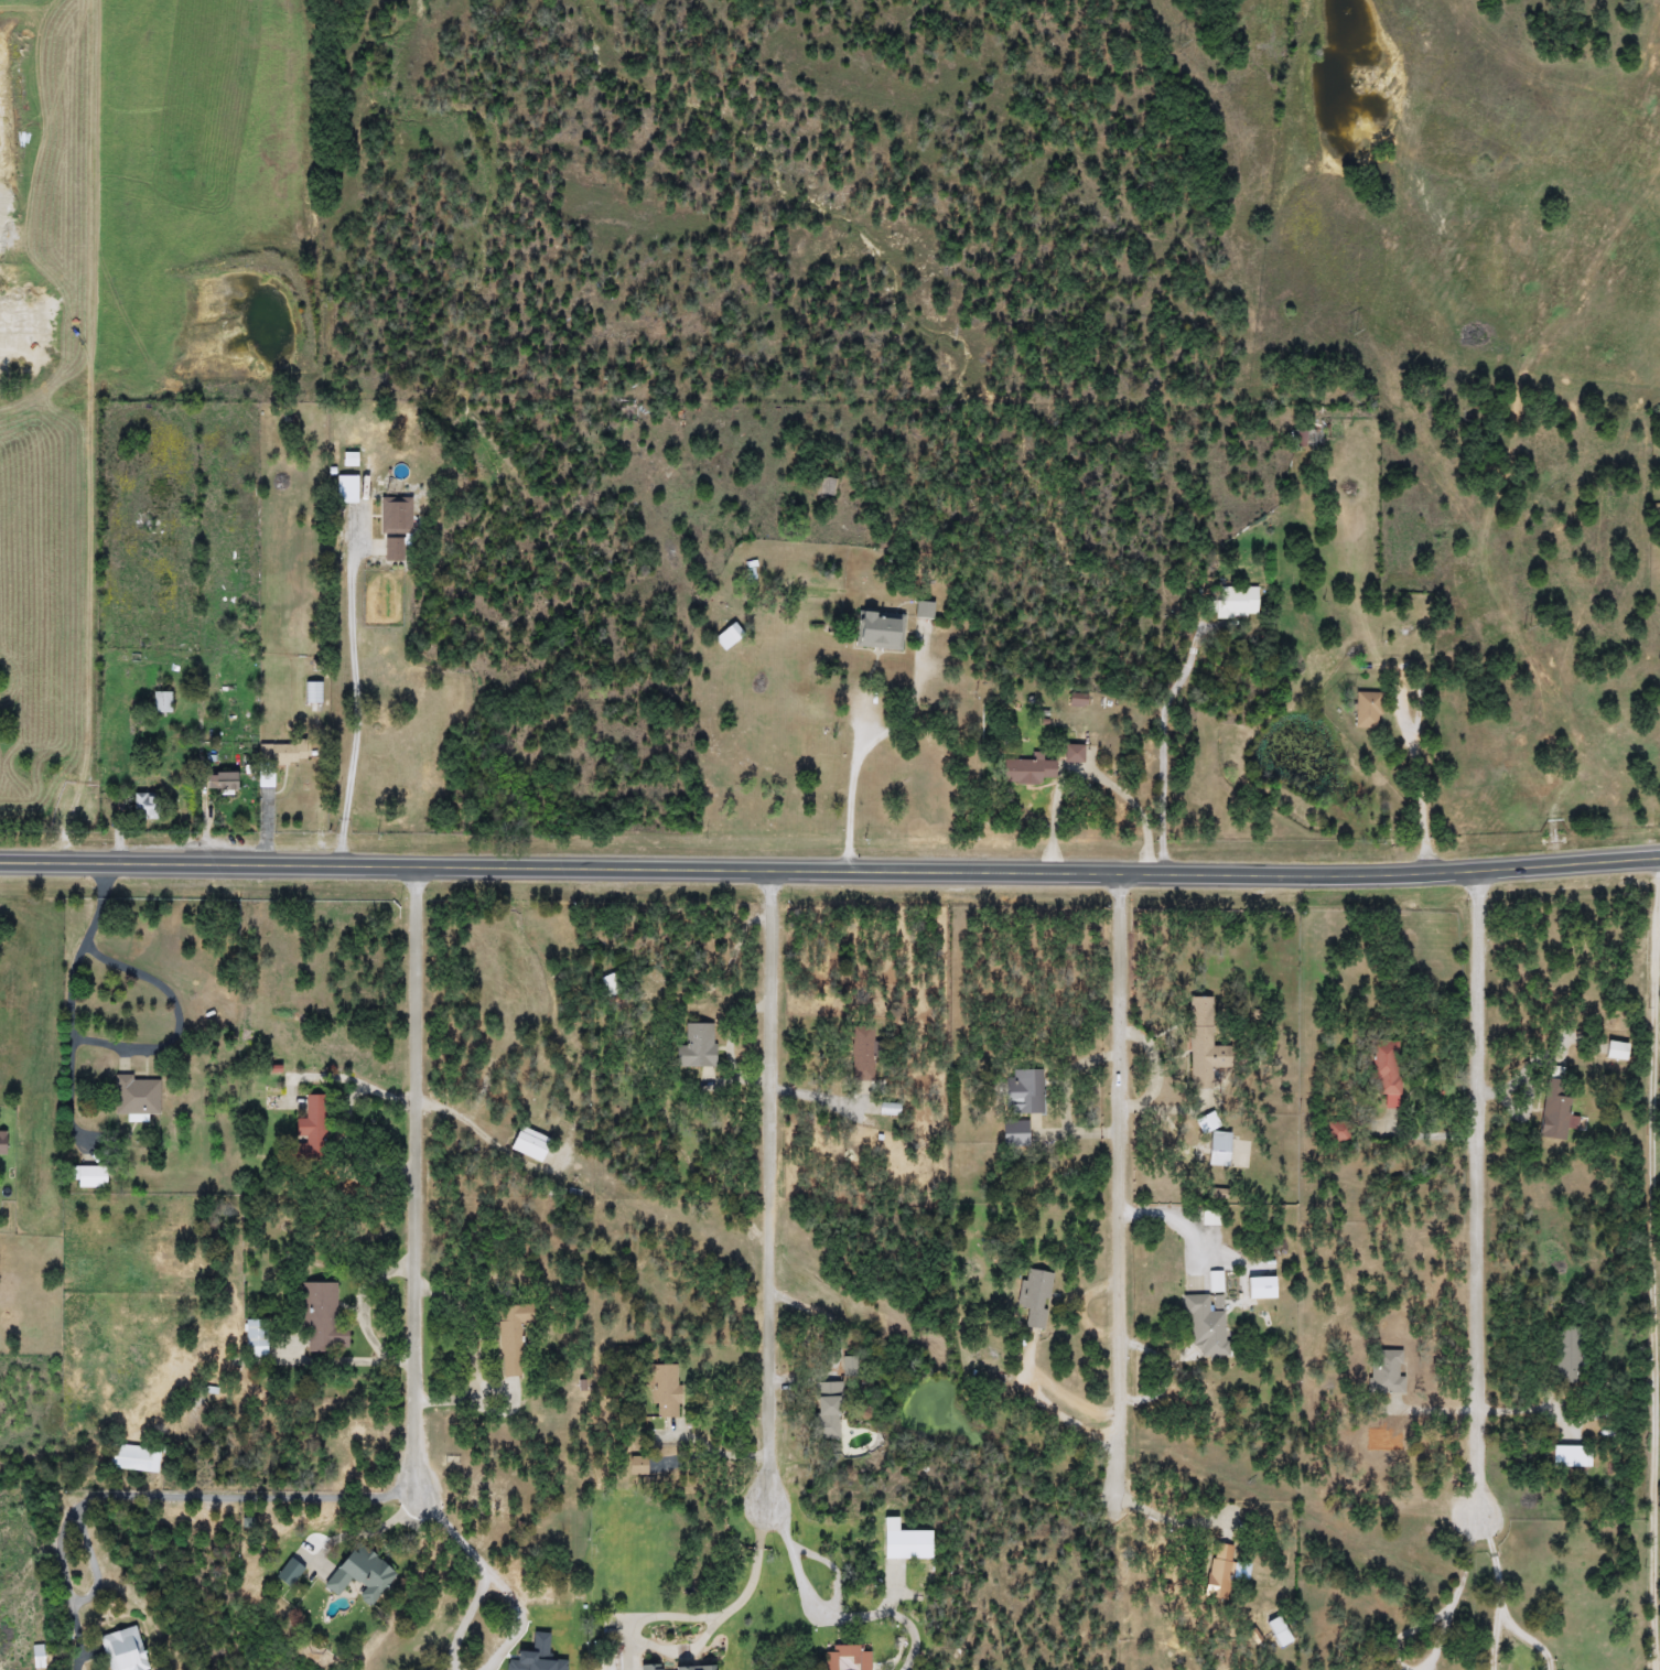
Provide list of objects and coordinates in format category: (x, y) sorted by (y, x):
building: (627, 414)
building: (1304, 439)
building: (824, 487)
building: (346, 489)
building: (394, 516)
building: (391, 550)
building: (1233, 602)
building: (877, 632)
building: (313, 693)
road: (360, 696)
building: (1075, 700)
building: (161, 703)
building: (1366, 711)
building: (1071, 754)
building: (280, 755)
road: (1163, 757)
building: (1027, 771)
road: (1420, 777)
building: (216, 785)
road: (855, 789)
building: (142, 808)
road: (830, 869)
road: (109, 1043)
building: (1201, 1044)
building: (694, 1046)
building: (1616, 1051)
building: (1386, 1071)
building: (1023, 1091)
building: (136, 1096)
building: (886, 1109)
building: (1554, 1109)
road: (347, 1122)
building: (1204, 1125)
building: (1337, 1131)
building: (309, 1133)
building: (1013, 1133)
building: (3, 1143)
building: (527, 1143)
building: (90, 1177)
road: (417, 1177)
road: (767, 1182)
road: (1120, 1187)
road: (1478, 1279)
building: (1035, 1297)
building: (320, 1318)
road: (1653, 1323)
building: (1205, 1324)
building: (256, 1336)
building: (510, 1340)
building: (1565, 1354)
building: (1384, 1372)
building: (664, 1390)
building: (826, 1411)
building: (1567, 1456)
building: (133, 1457)
road: (248, 1497)
road: (1166, 1519)
building: (902, 1541)
road: (473, 1551)
road: (1499, 1559)
building: (1218, 1571)
building: (358, 1573)
road: (756, 1573)
road: (807, 1583)
building: (1280, 1631)
road: (1532, 1638)
road: (1499, 1641)
building: (122, 1650)
building: (536, 1655)
building: (847, 1657)
building: (650, 1667)
building: (692, 1667)

